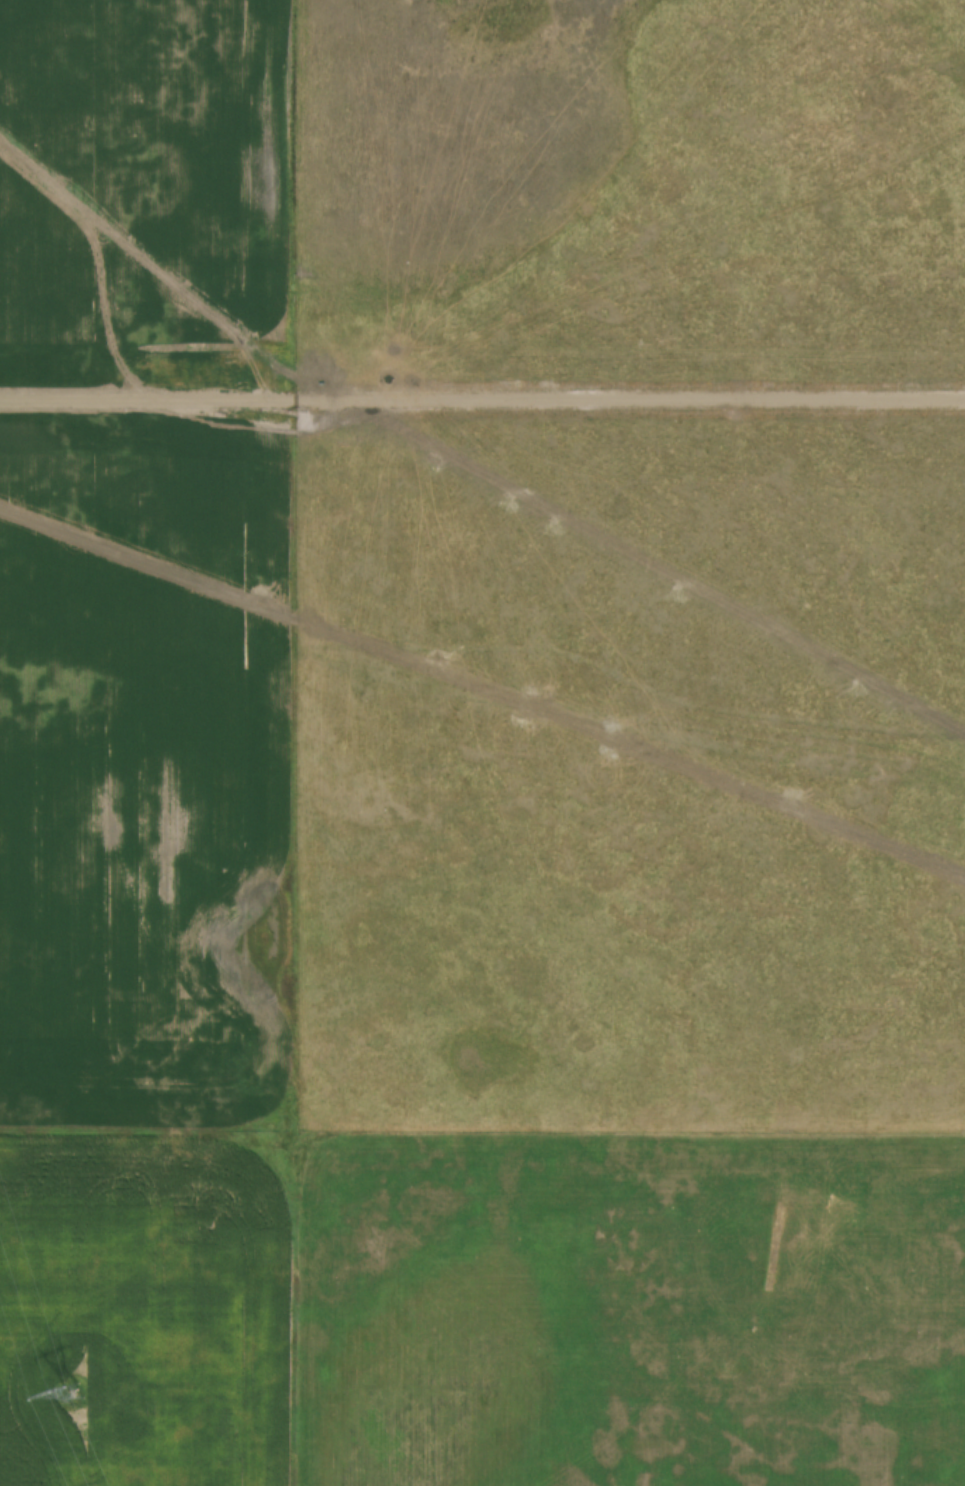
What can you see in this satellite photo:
power tower: (73, 1394)

